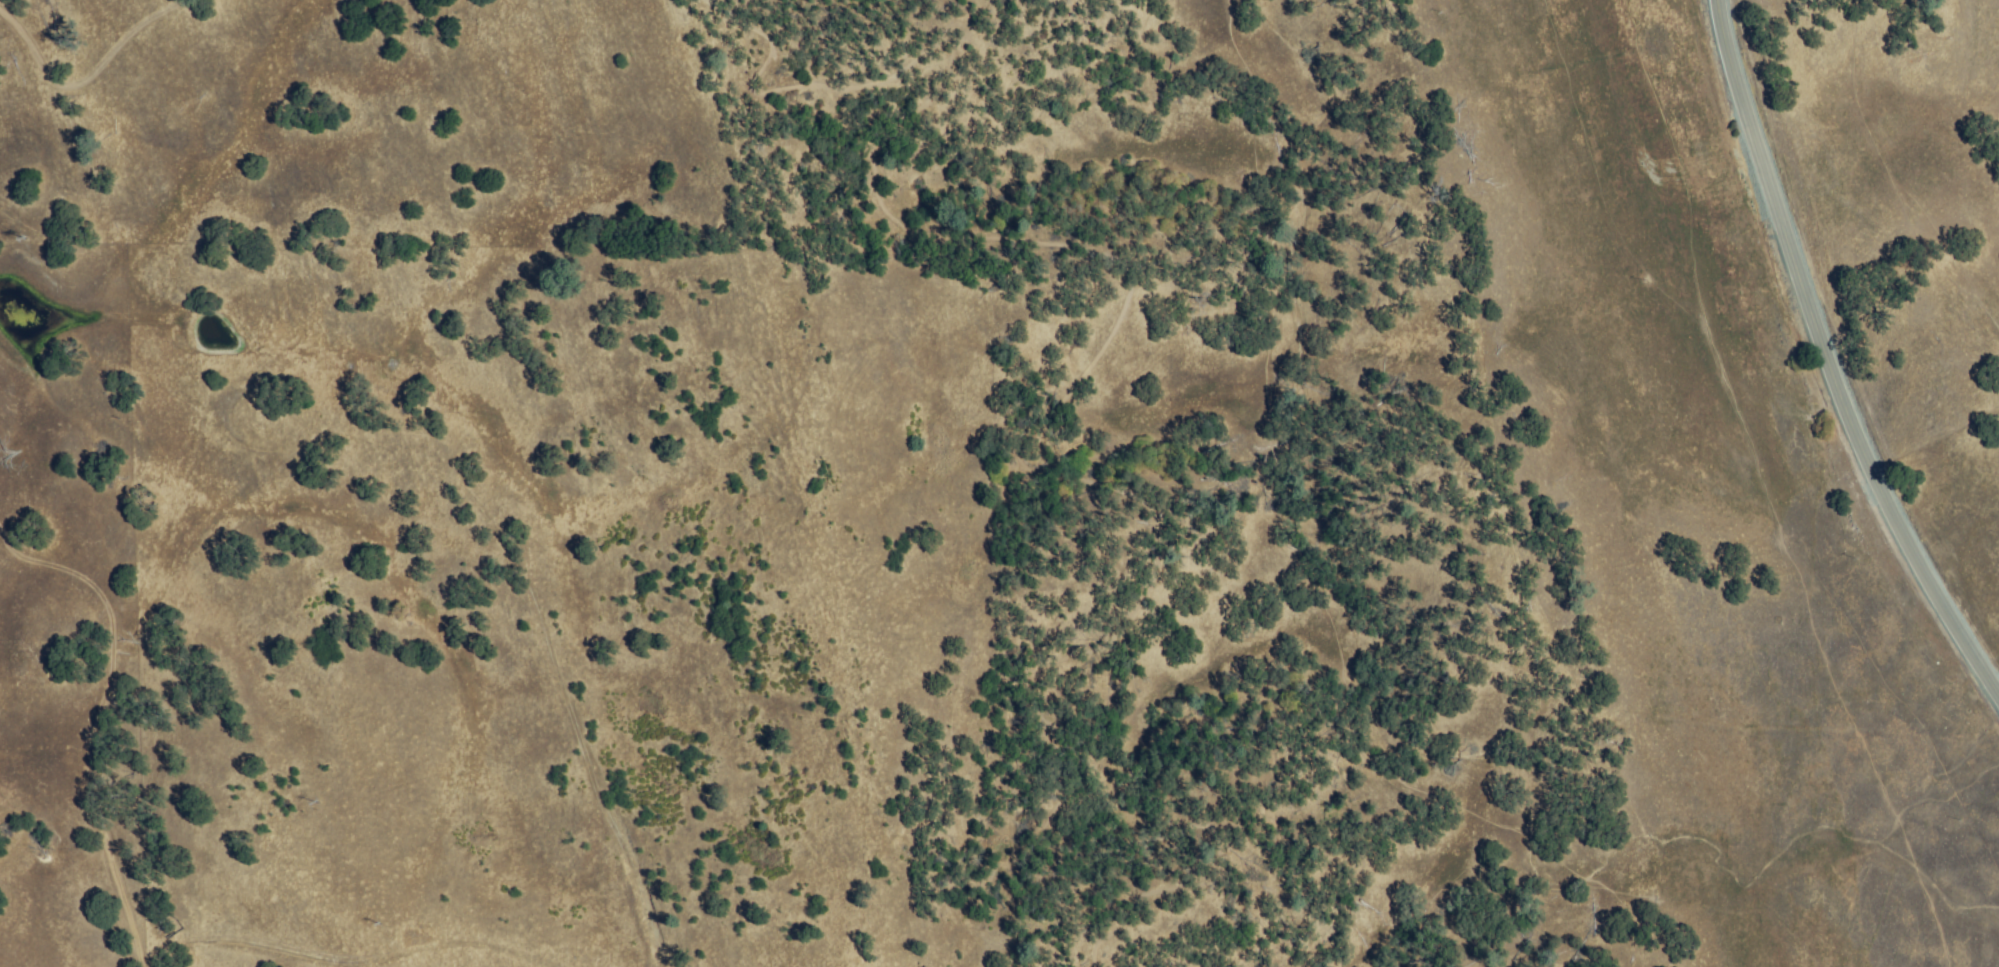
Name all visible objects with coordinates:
road: (82, 75)
road: (1827, 360)
road: (1058, 402)

